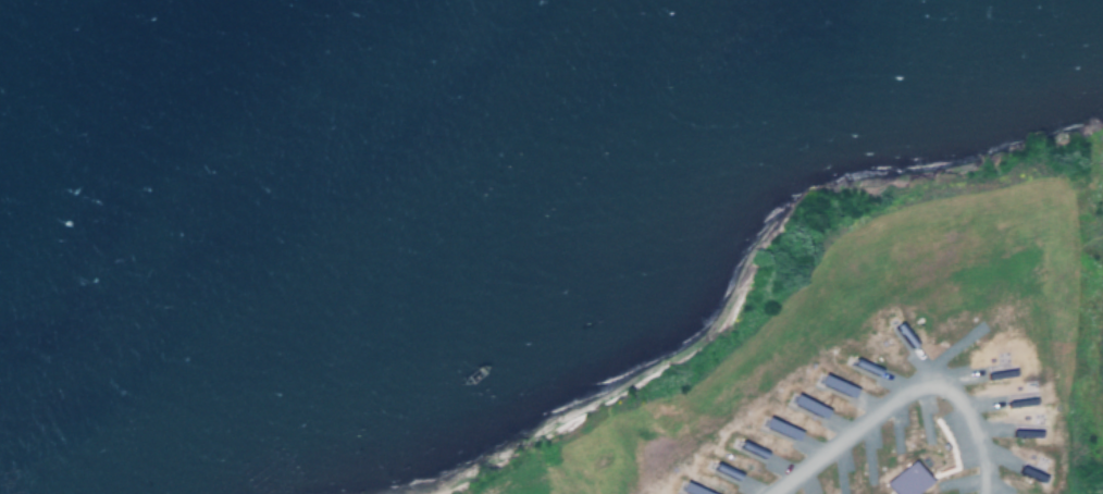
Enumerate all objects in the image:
building: (901, 480)

